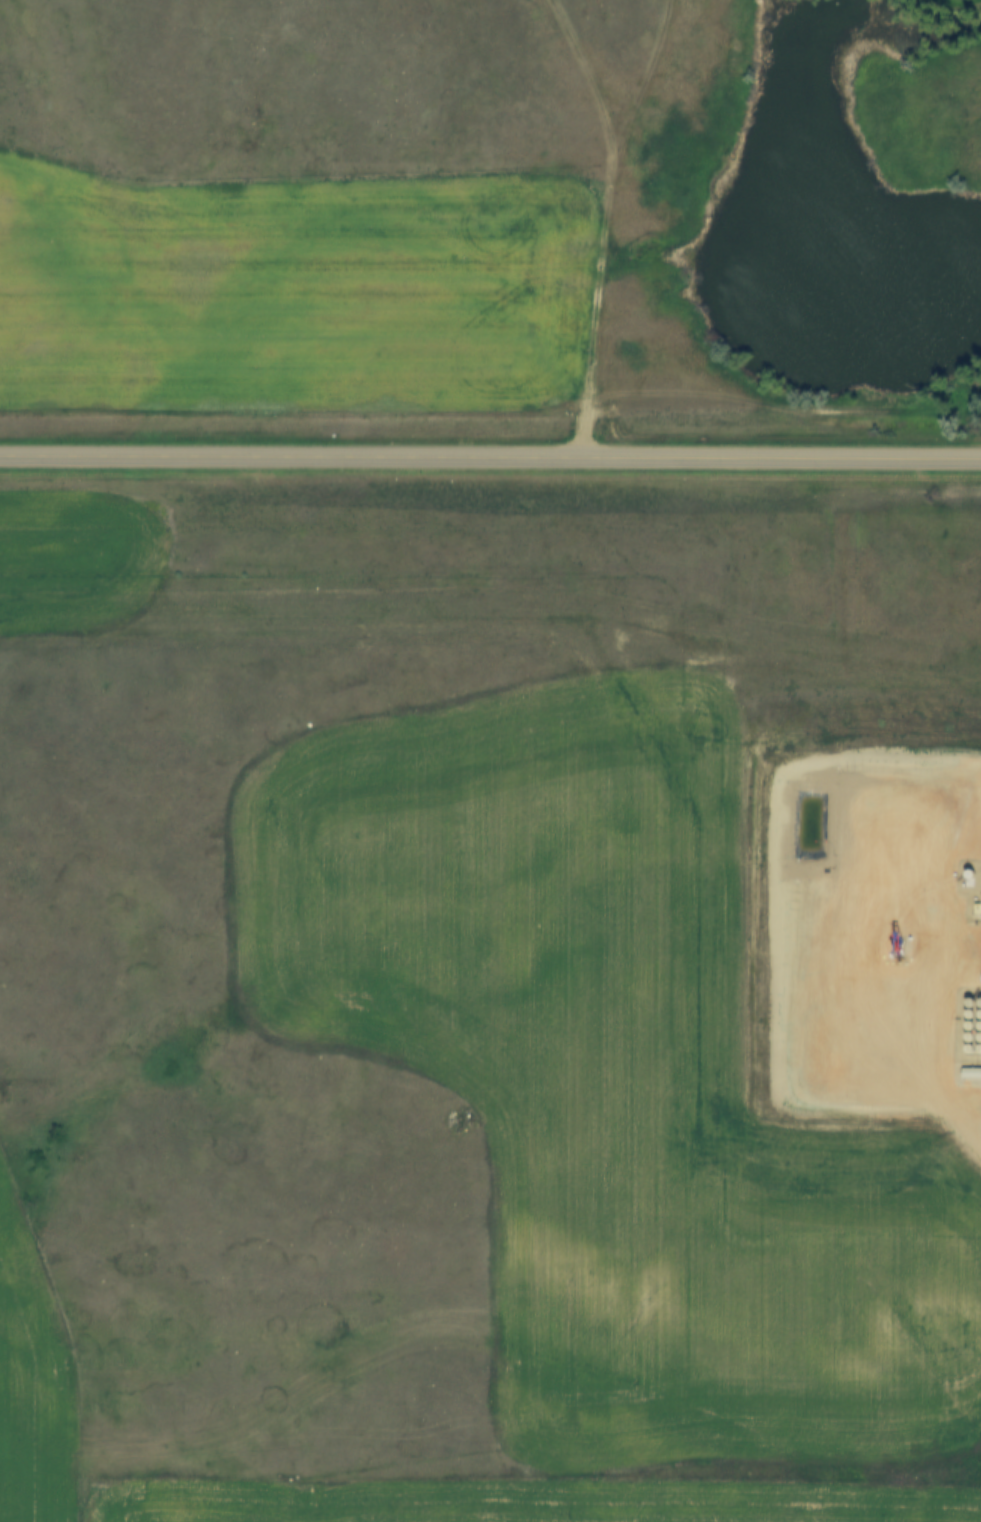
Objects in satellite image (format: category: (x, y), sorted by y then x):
road: (586, 70)
road: (603, 221)
road: (490, 453)

